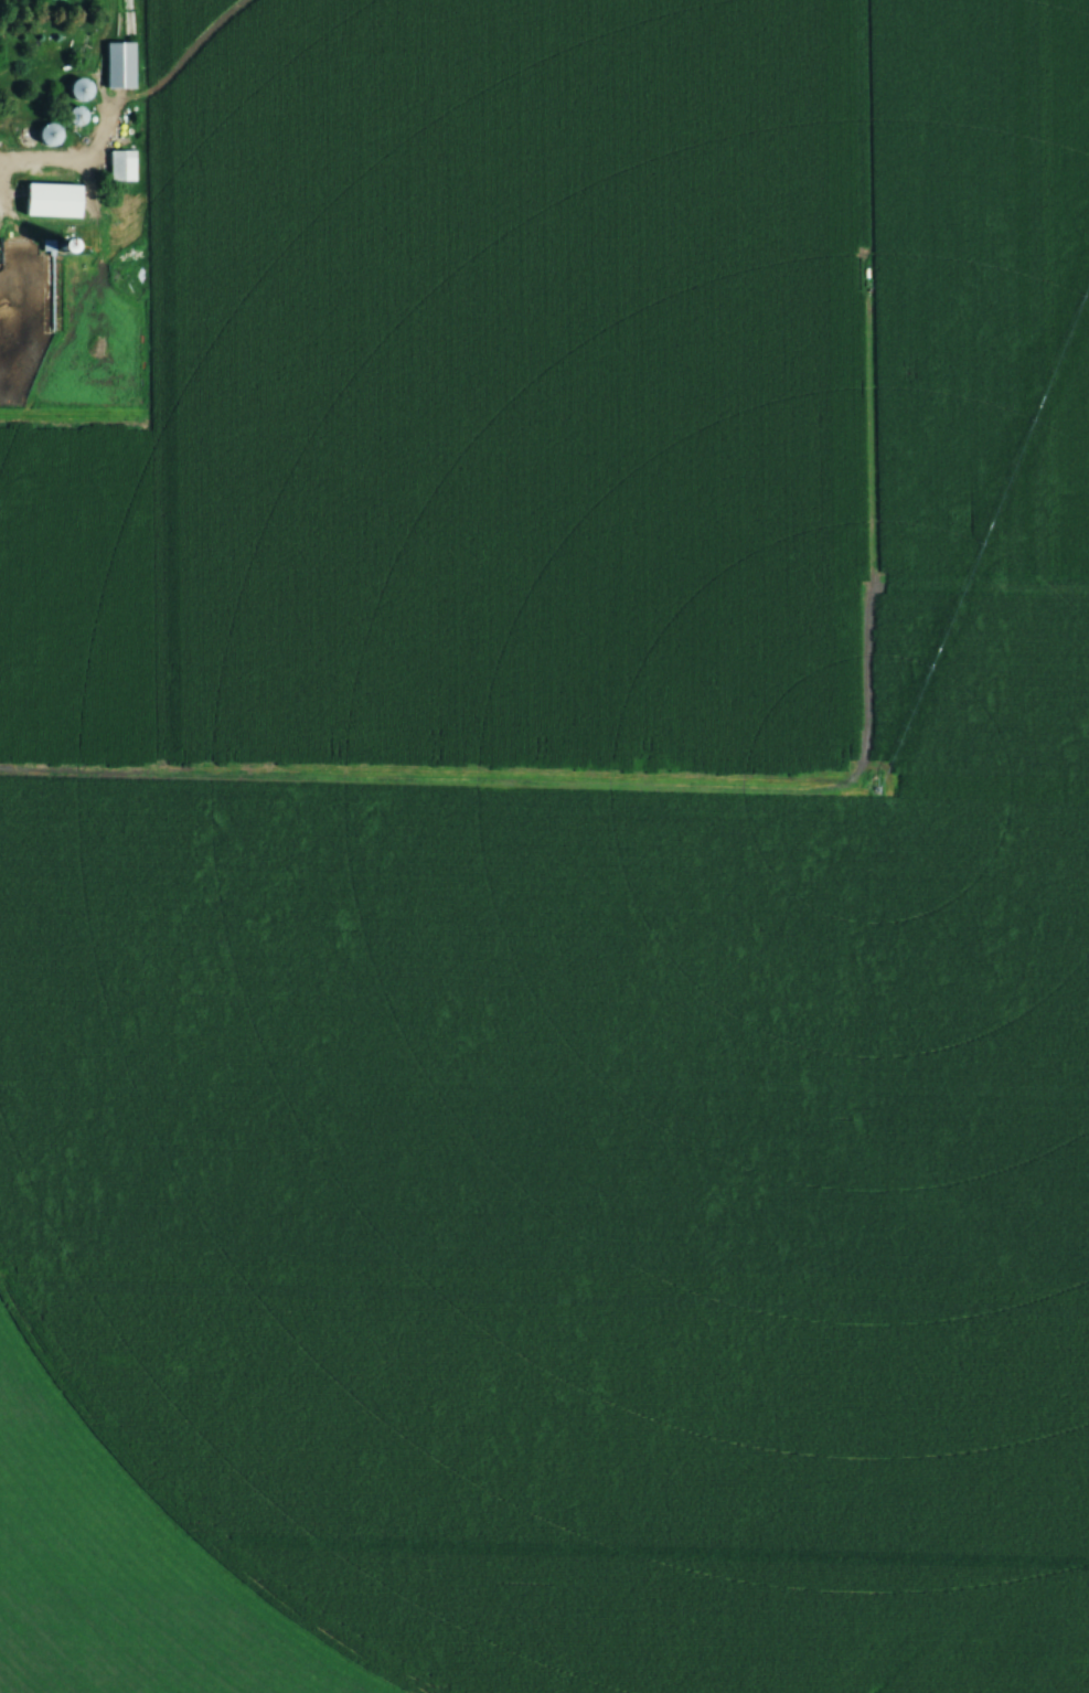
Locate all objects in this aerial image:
building: (117, 66)
building: (79, 96)
building: (74, 121)
building: (47, 140)
building: (119, 167)

